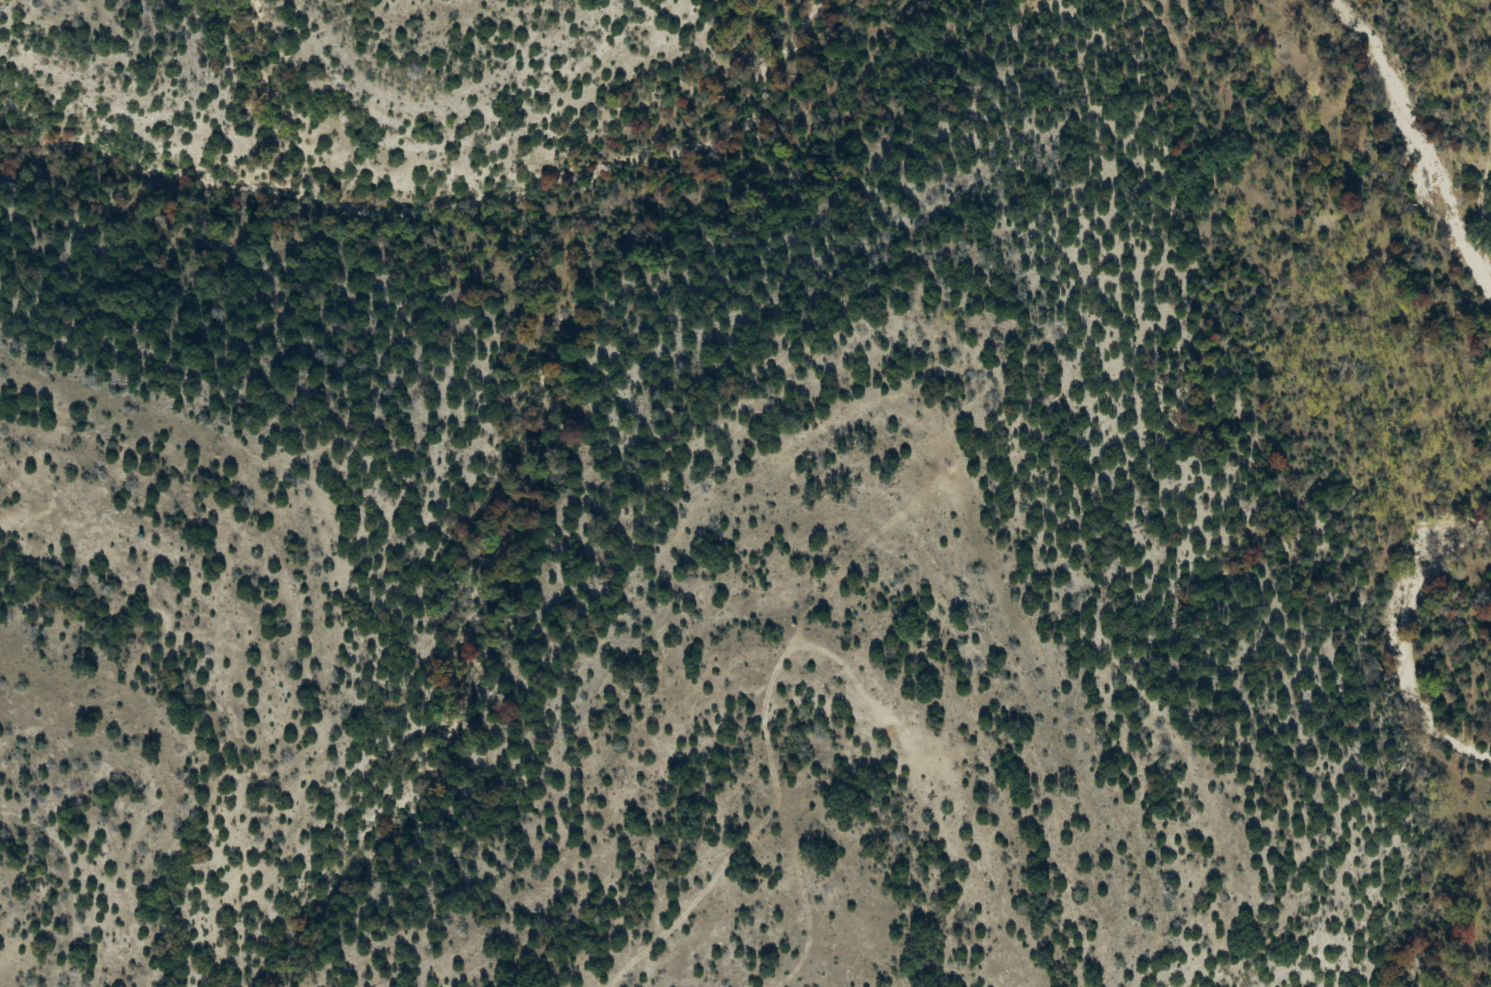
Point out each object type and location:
road: (1467, 172)

